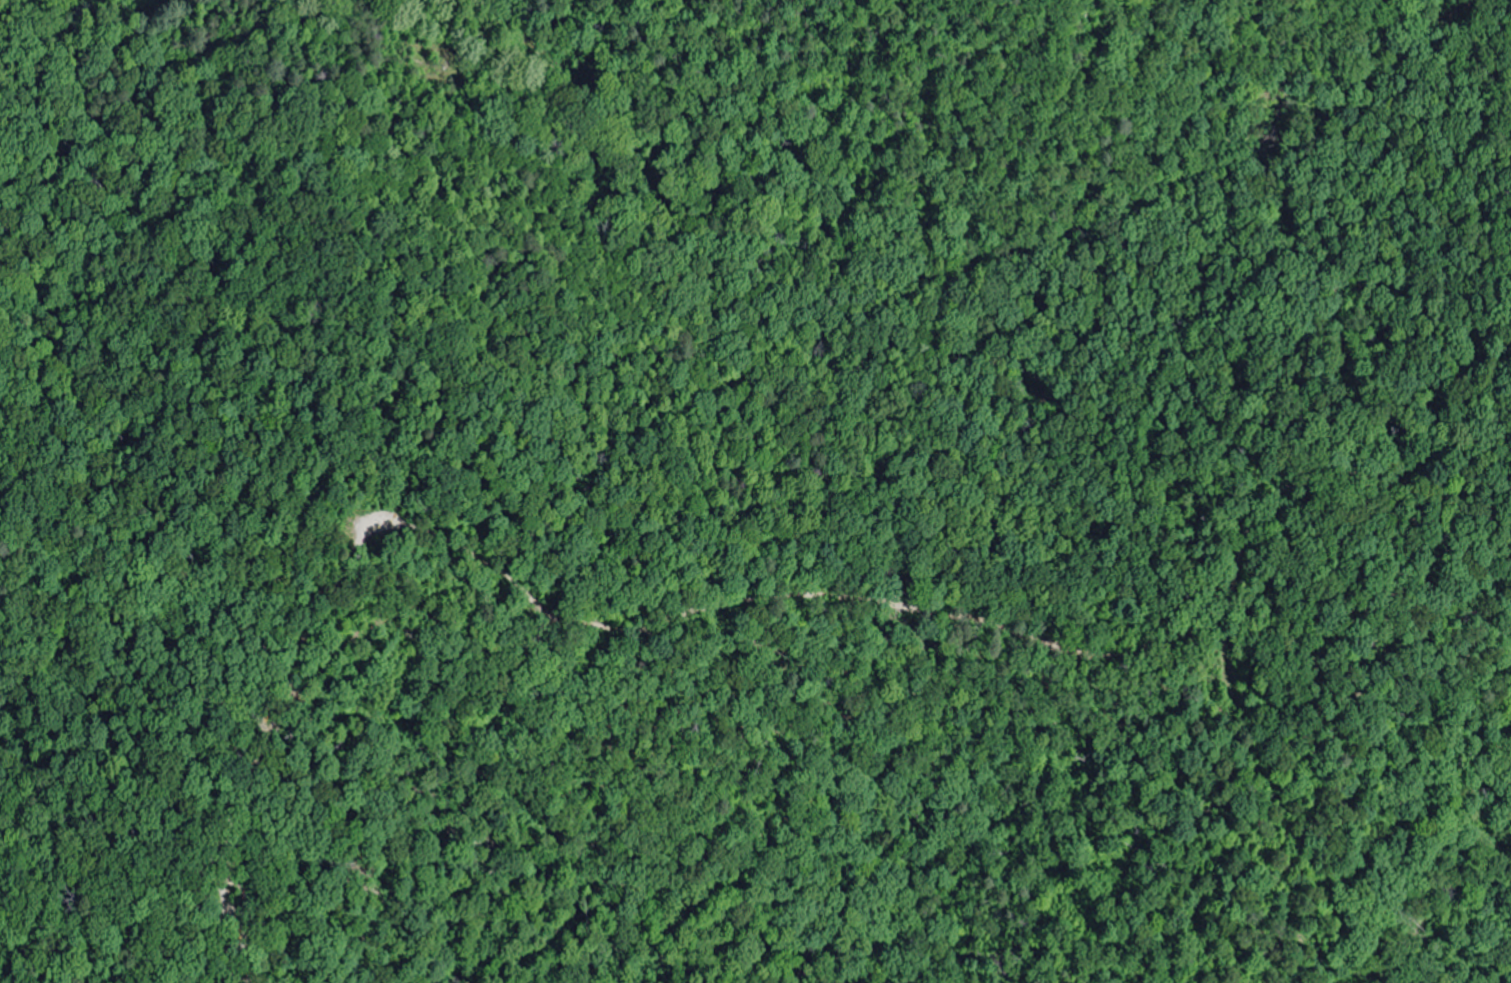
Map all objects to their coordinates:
road: (762, 605)

